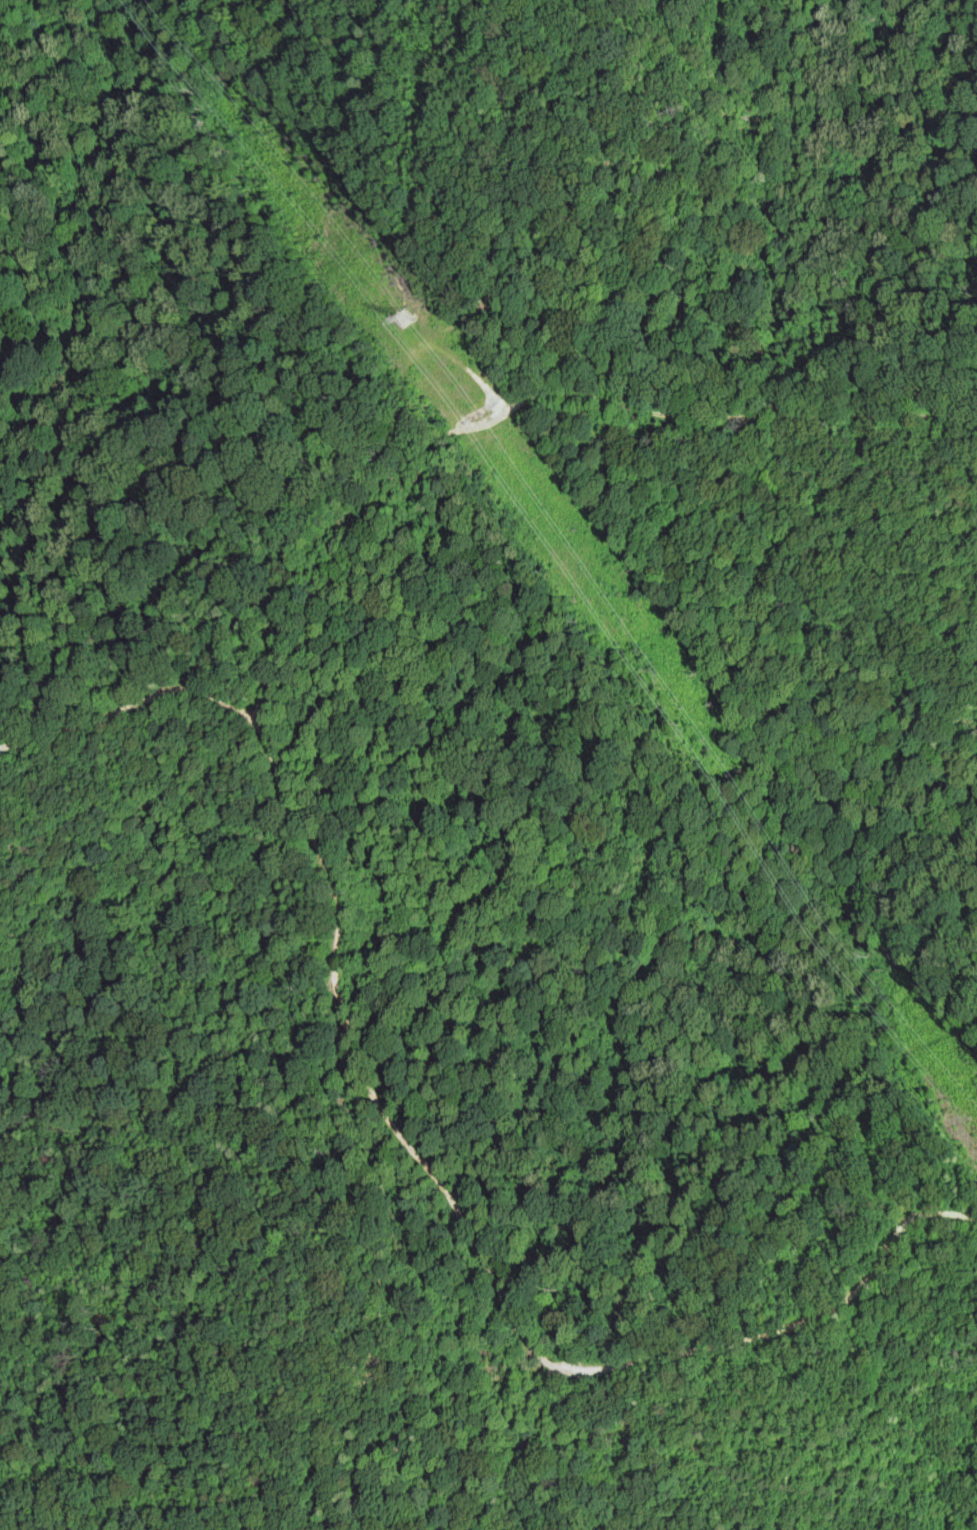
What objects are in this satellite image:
power tower: (395, 322)

